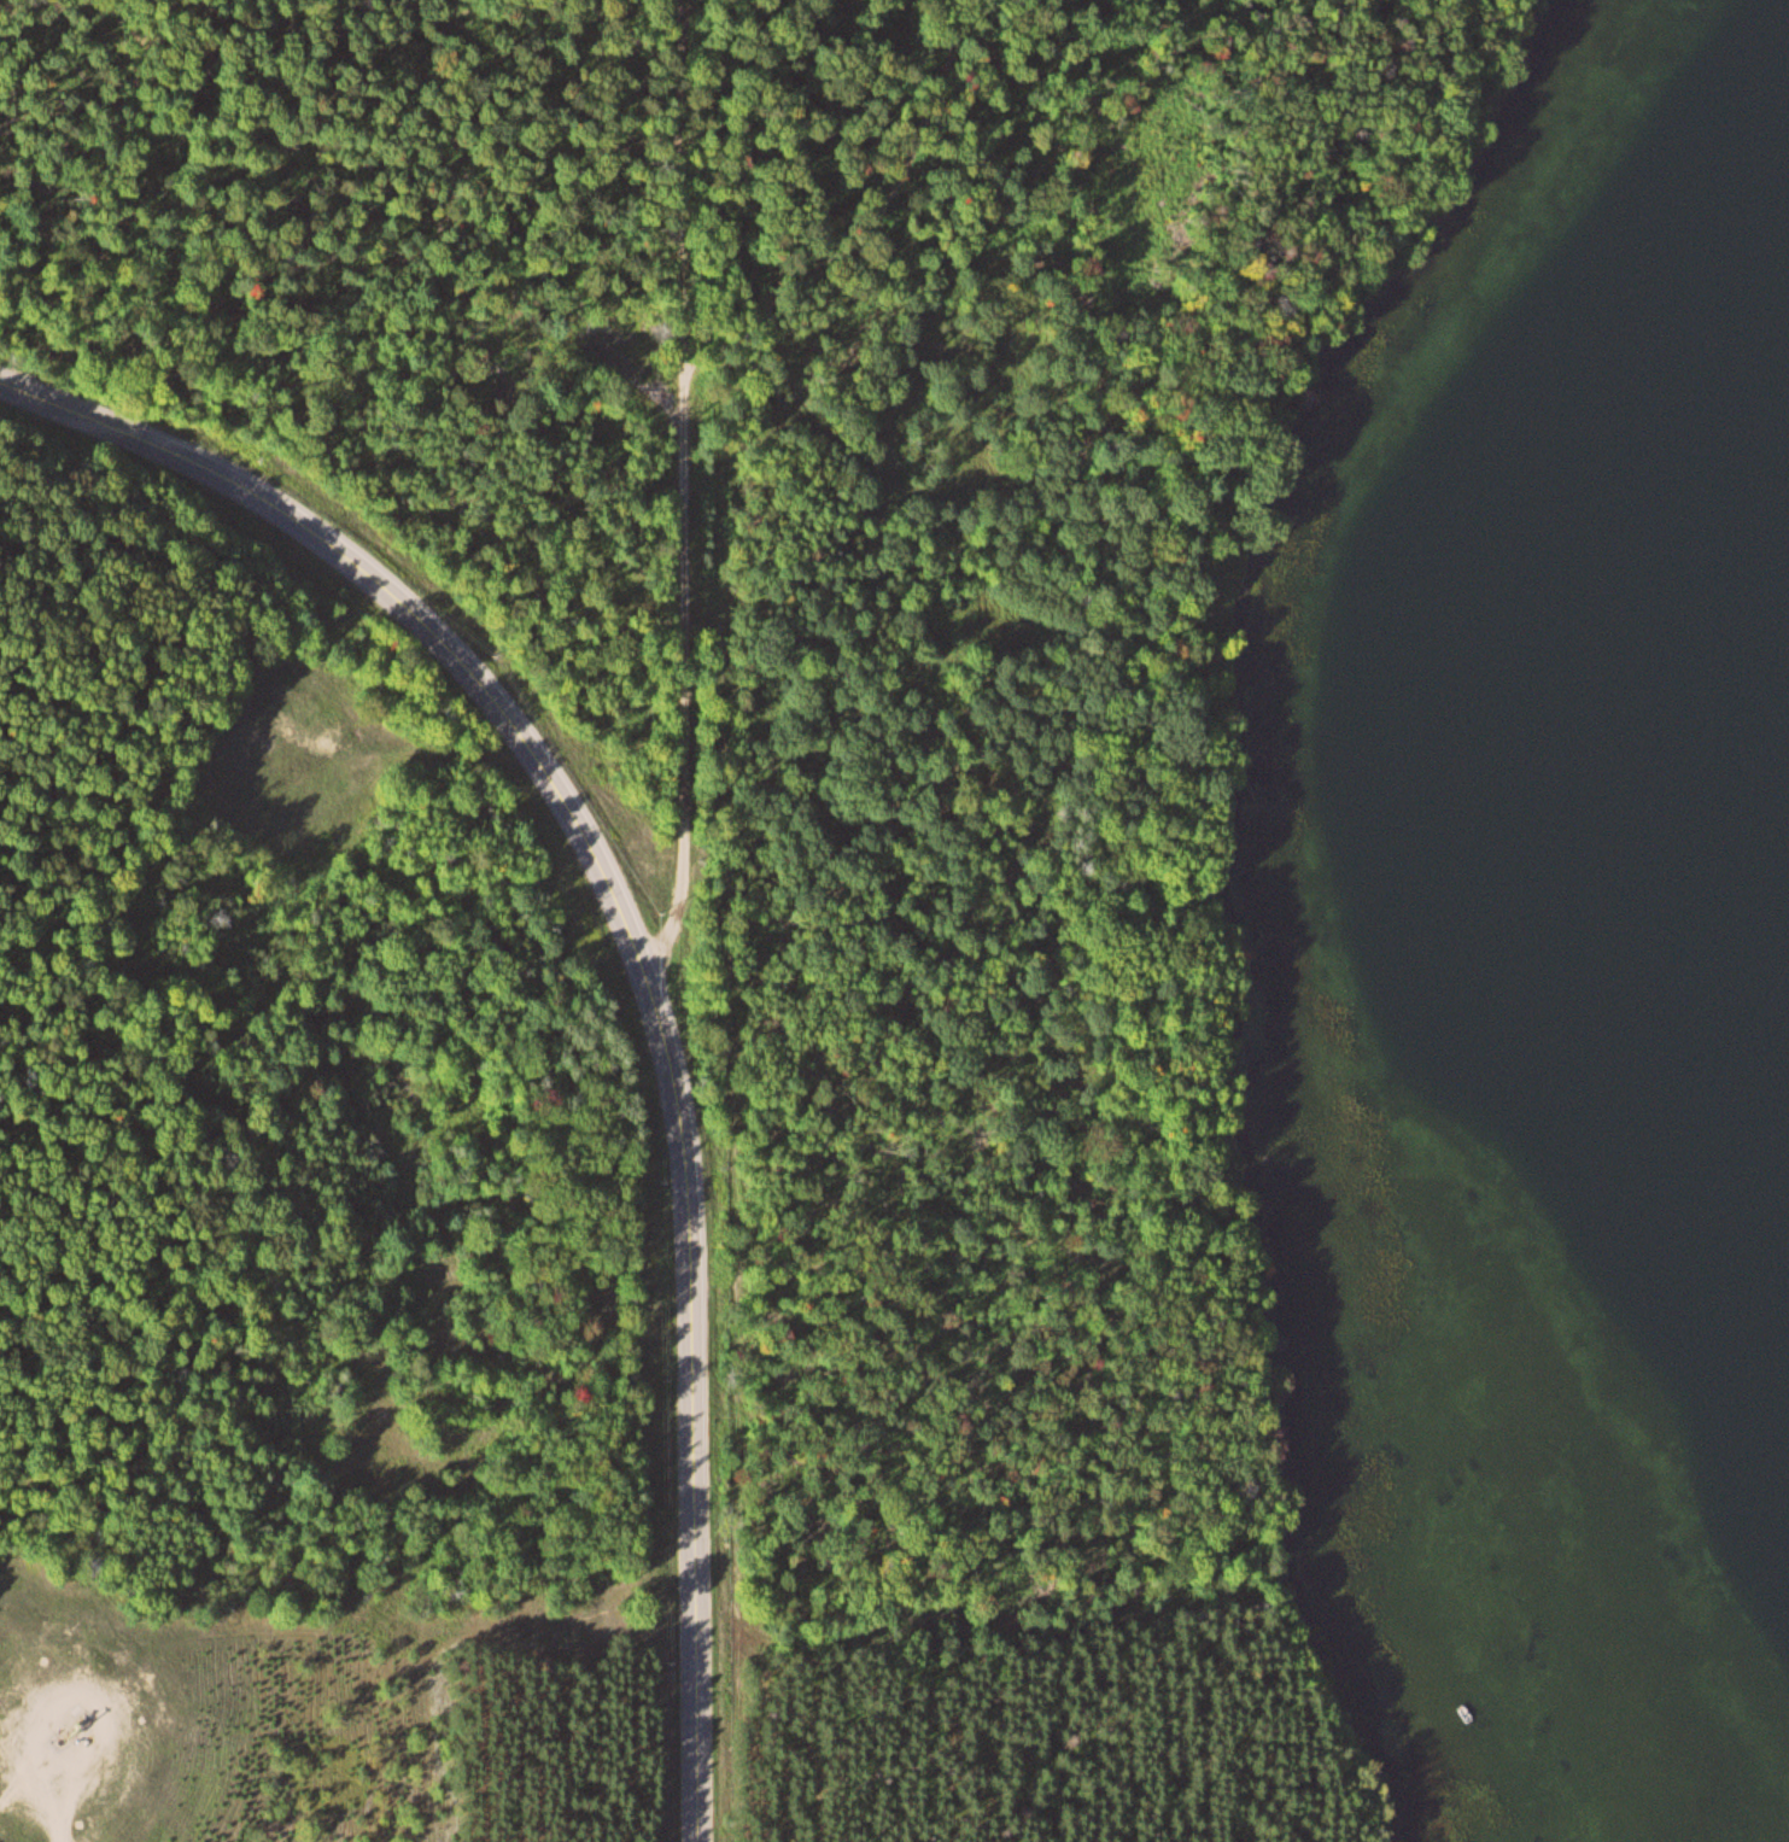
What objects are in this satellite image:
road: (703, 180)
road: (686, 499)
road: (445, 655)
road: (692, 1479)

